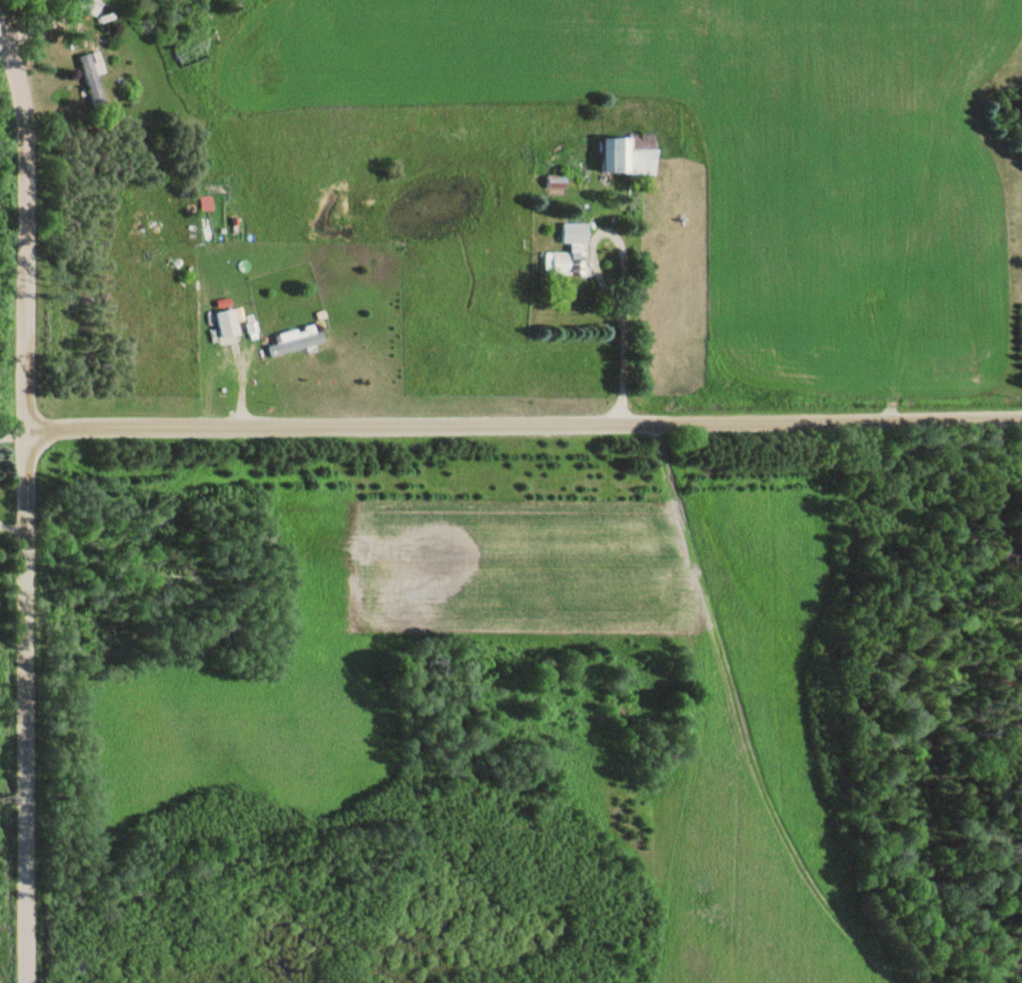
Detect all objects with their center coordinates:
building: (92, 5)
building: (95, 76)
building: (629, 155)
road: (29, 213)
building: (574, 232)
building: (565, 262)
building: (230, 321)
building: (298, 340)
building: (152, 368)
building: (207, 377)
road: (524, 421)
road: (28, 705)

